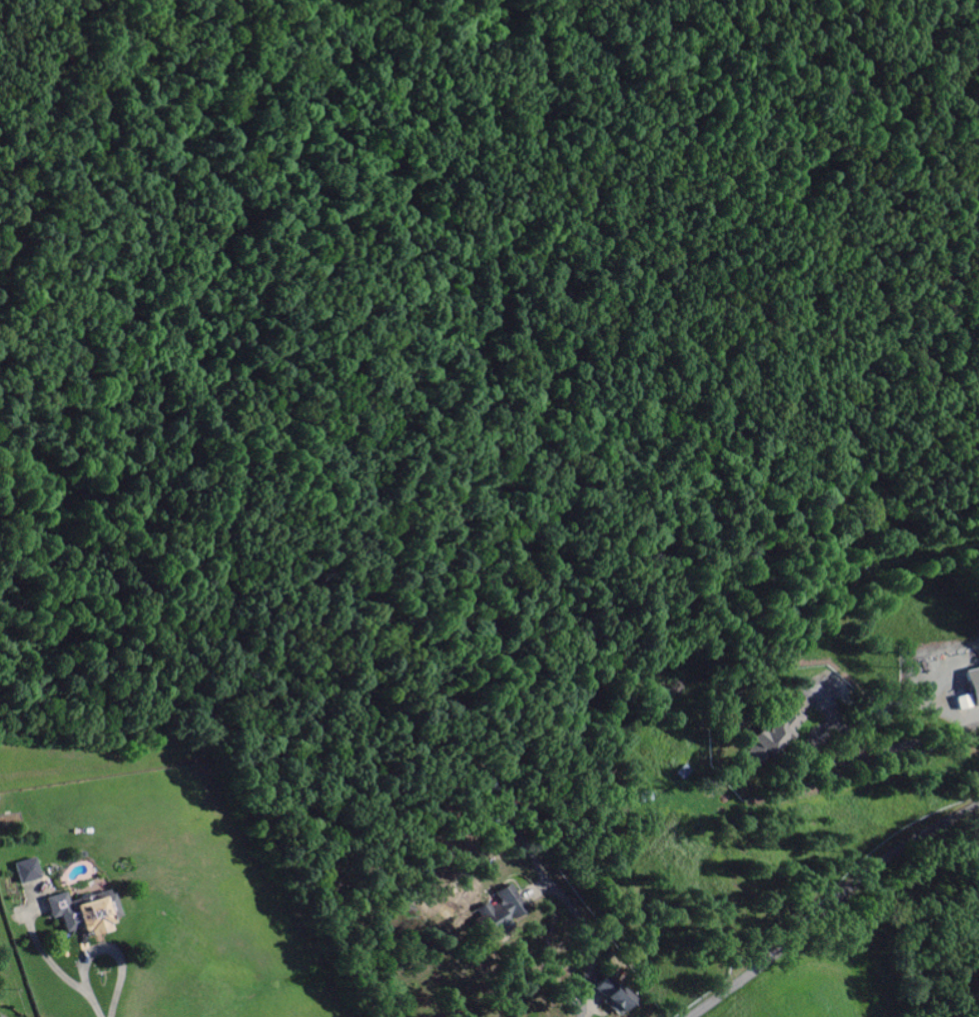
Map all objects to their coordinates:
building: (969, 691)
building: (775, 731)
building: (658, 782)
building: (26, 872)
road: (833, 908)
building: (79, 913)
building: (496, 914)
building: (610, 996)
road: (5, 1009)

